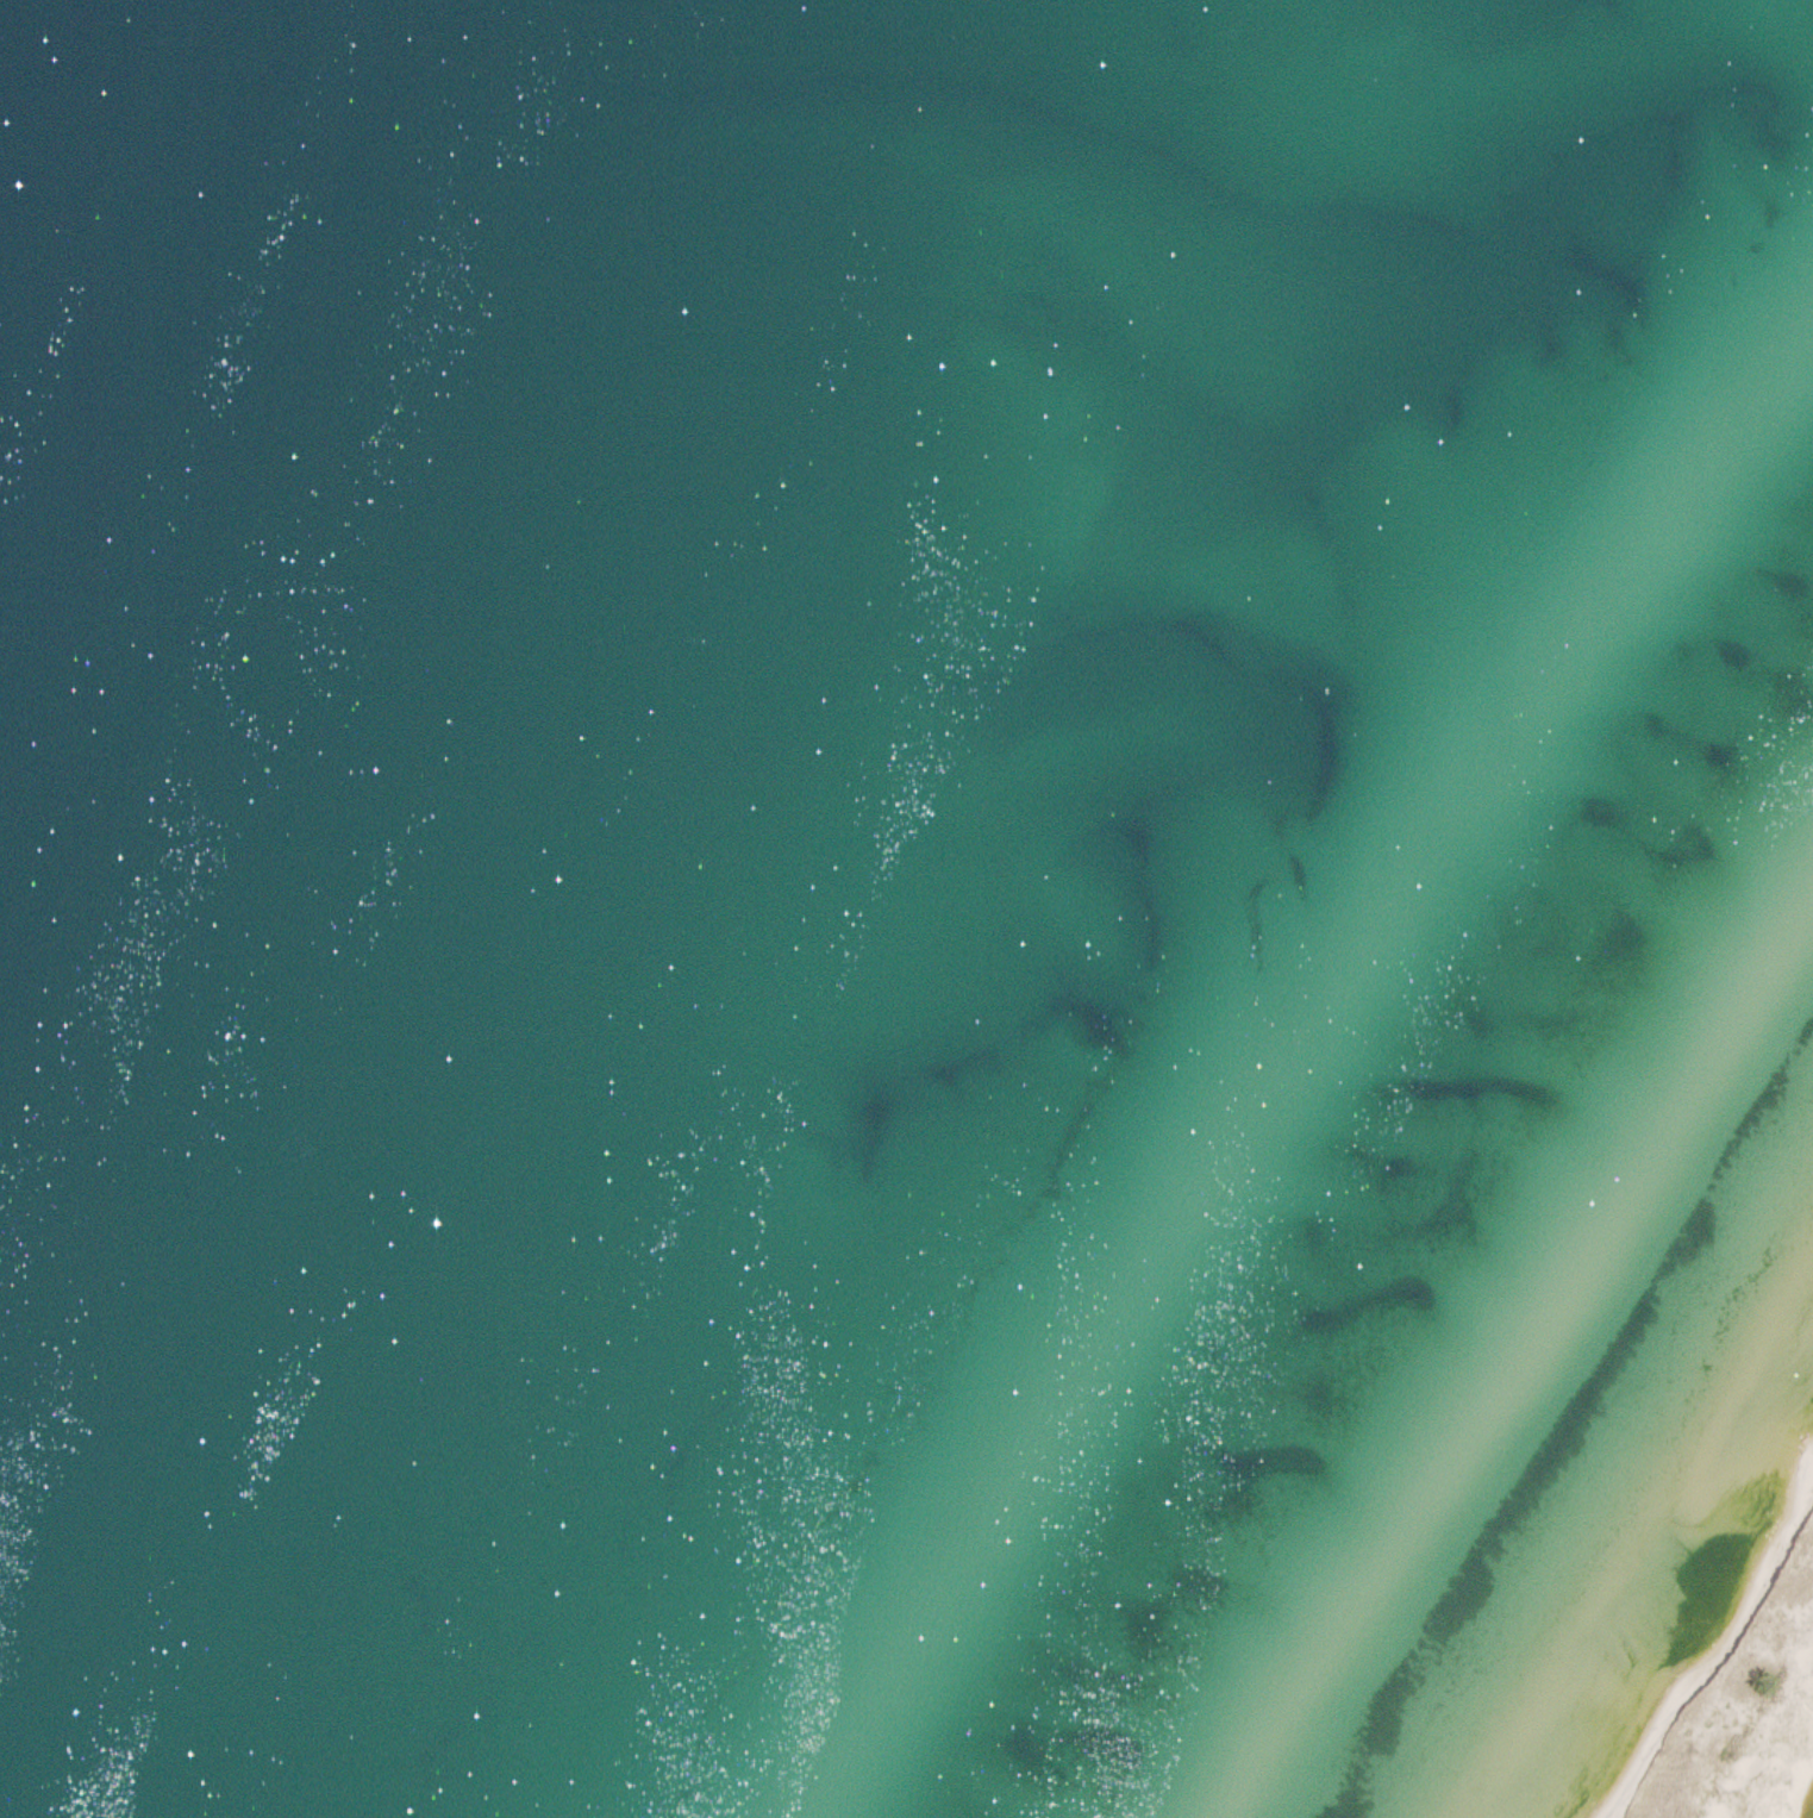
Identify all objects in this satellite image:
park: (1719, 1639)

